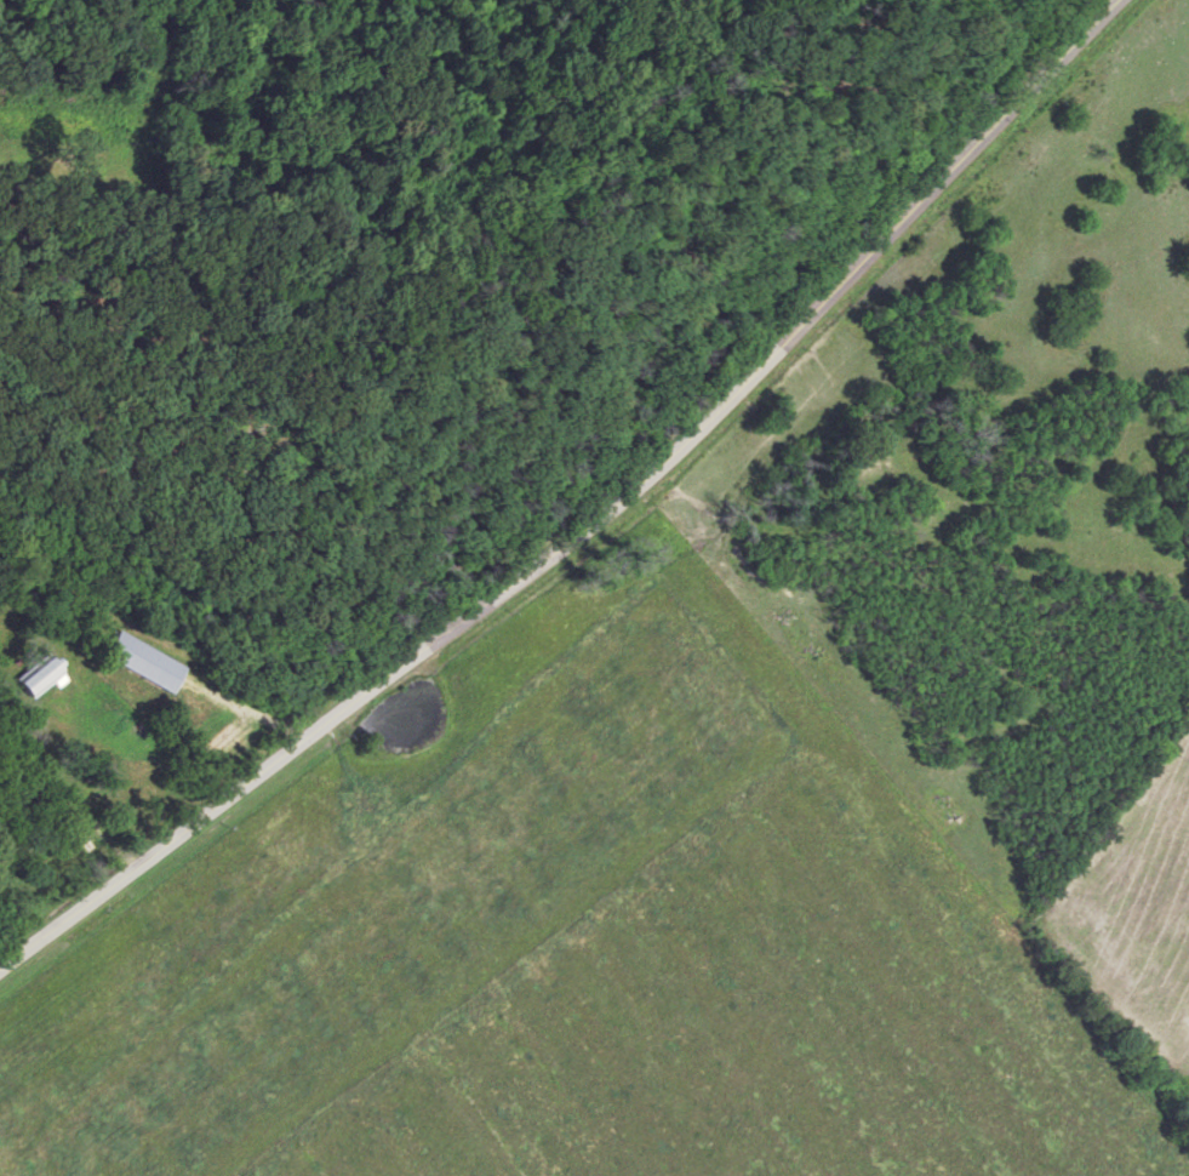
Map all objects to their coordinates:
road: (589, 521)
building: (138, 660)
building: (24, 686)

